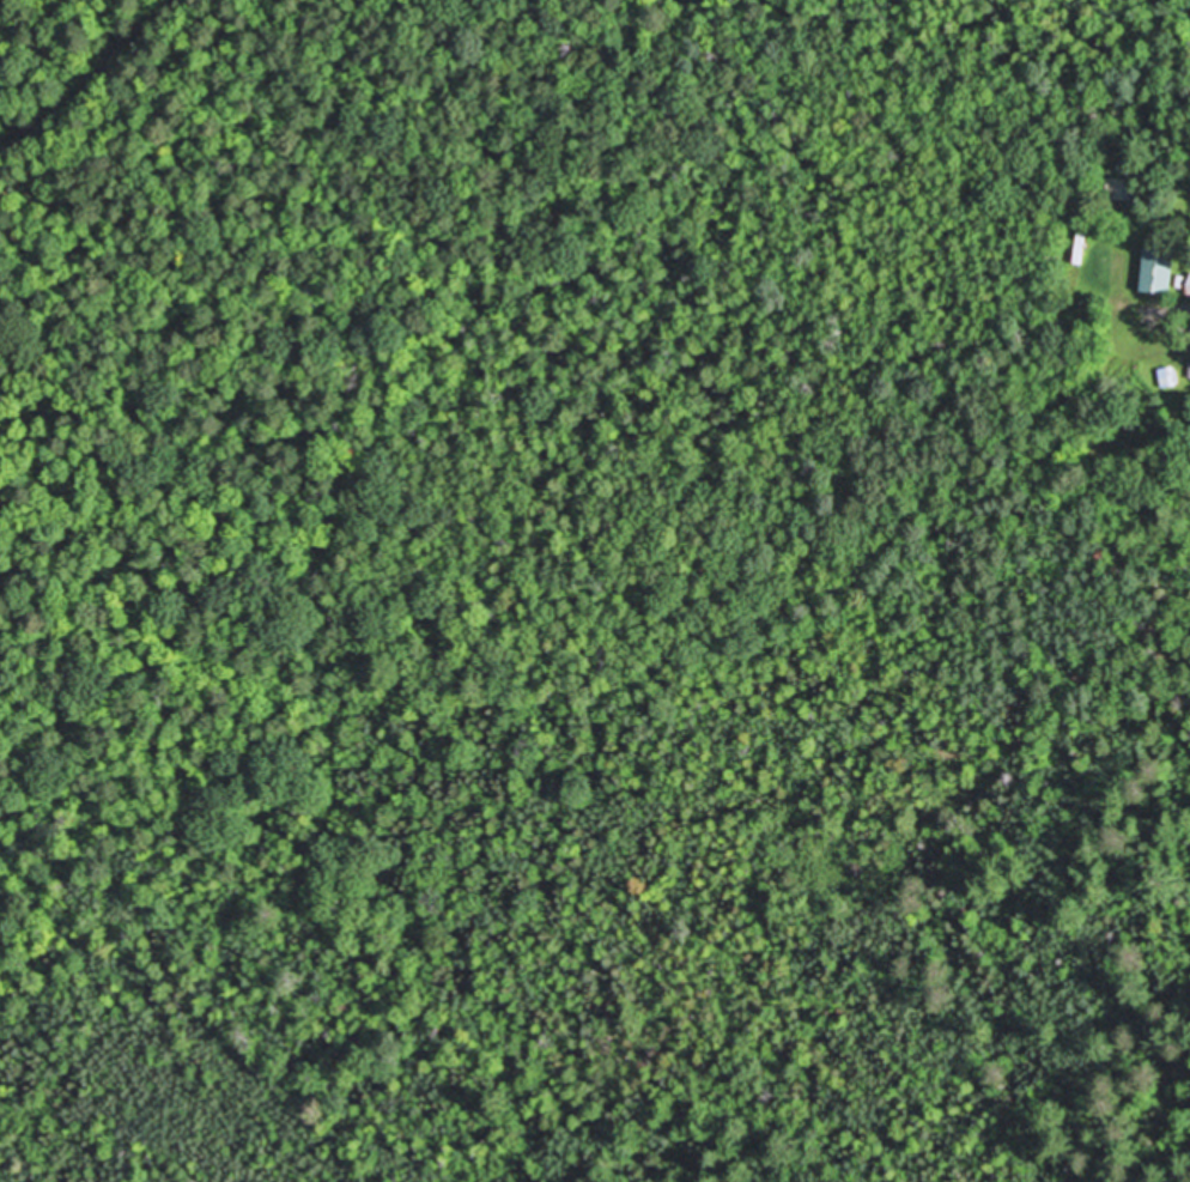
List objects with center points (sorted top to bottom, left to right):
road: (1177, 2)
building: (1122, 190)
building: (1159, 272)
building: (1168, 378)

